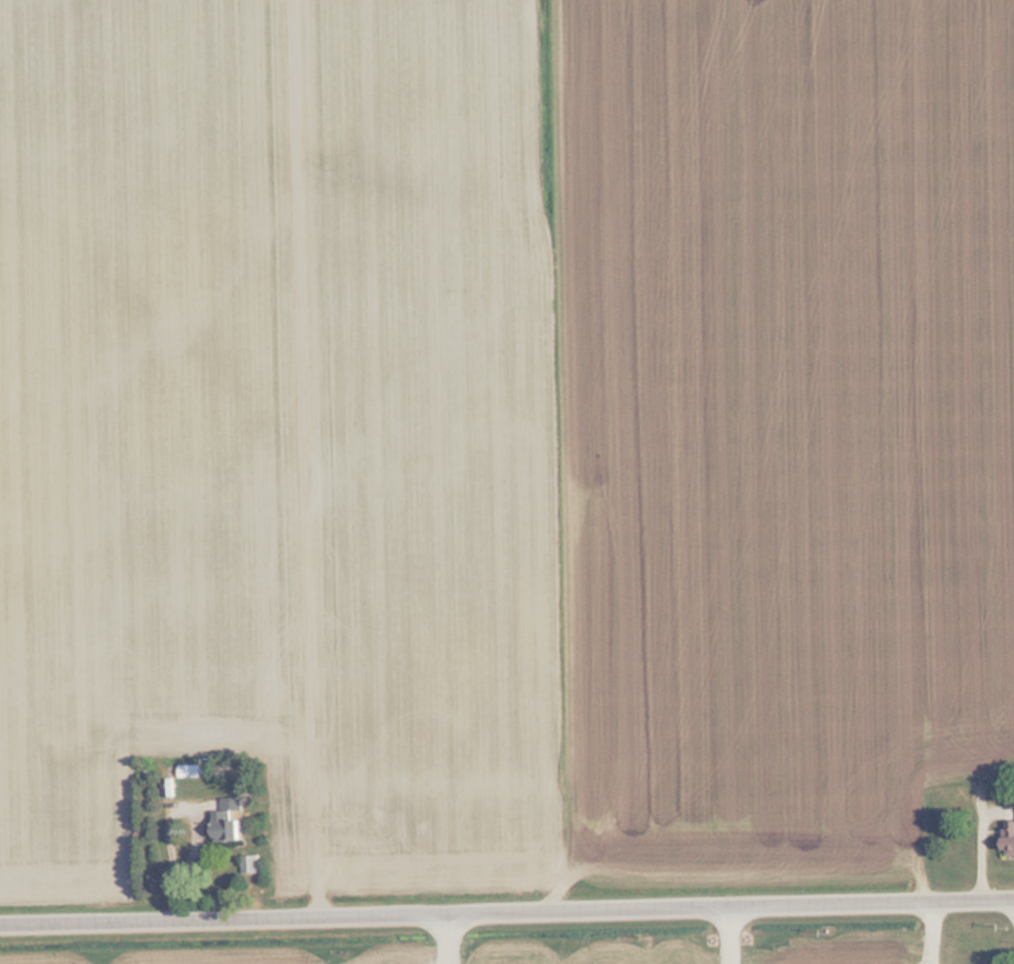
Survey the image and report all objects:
road: (304, 461)
building: (970, 728)
building: (61, 735)
building: (189, 771)
building: (228, 820)
building: (1009, 837)
building: (250, 864)
road: (507, 917)

